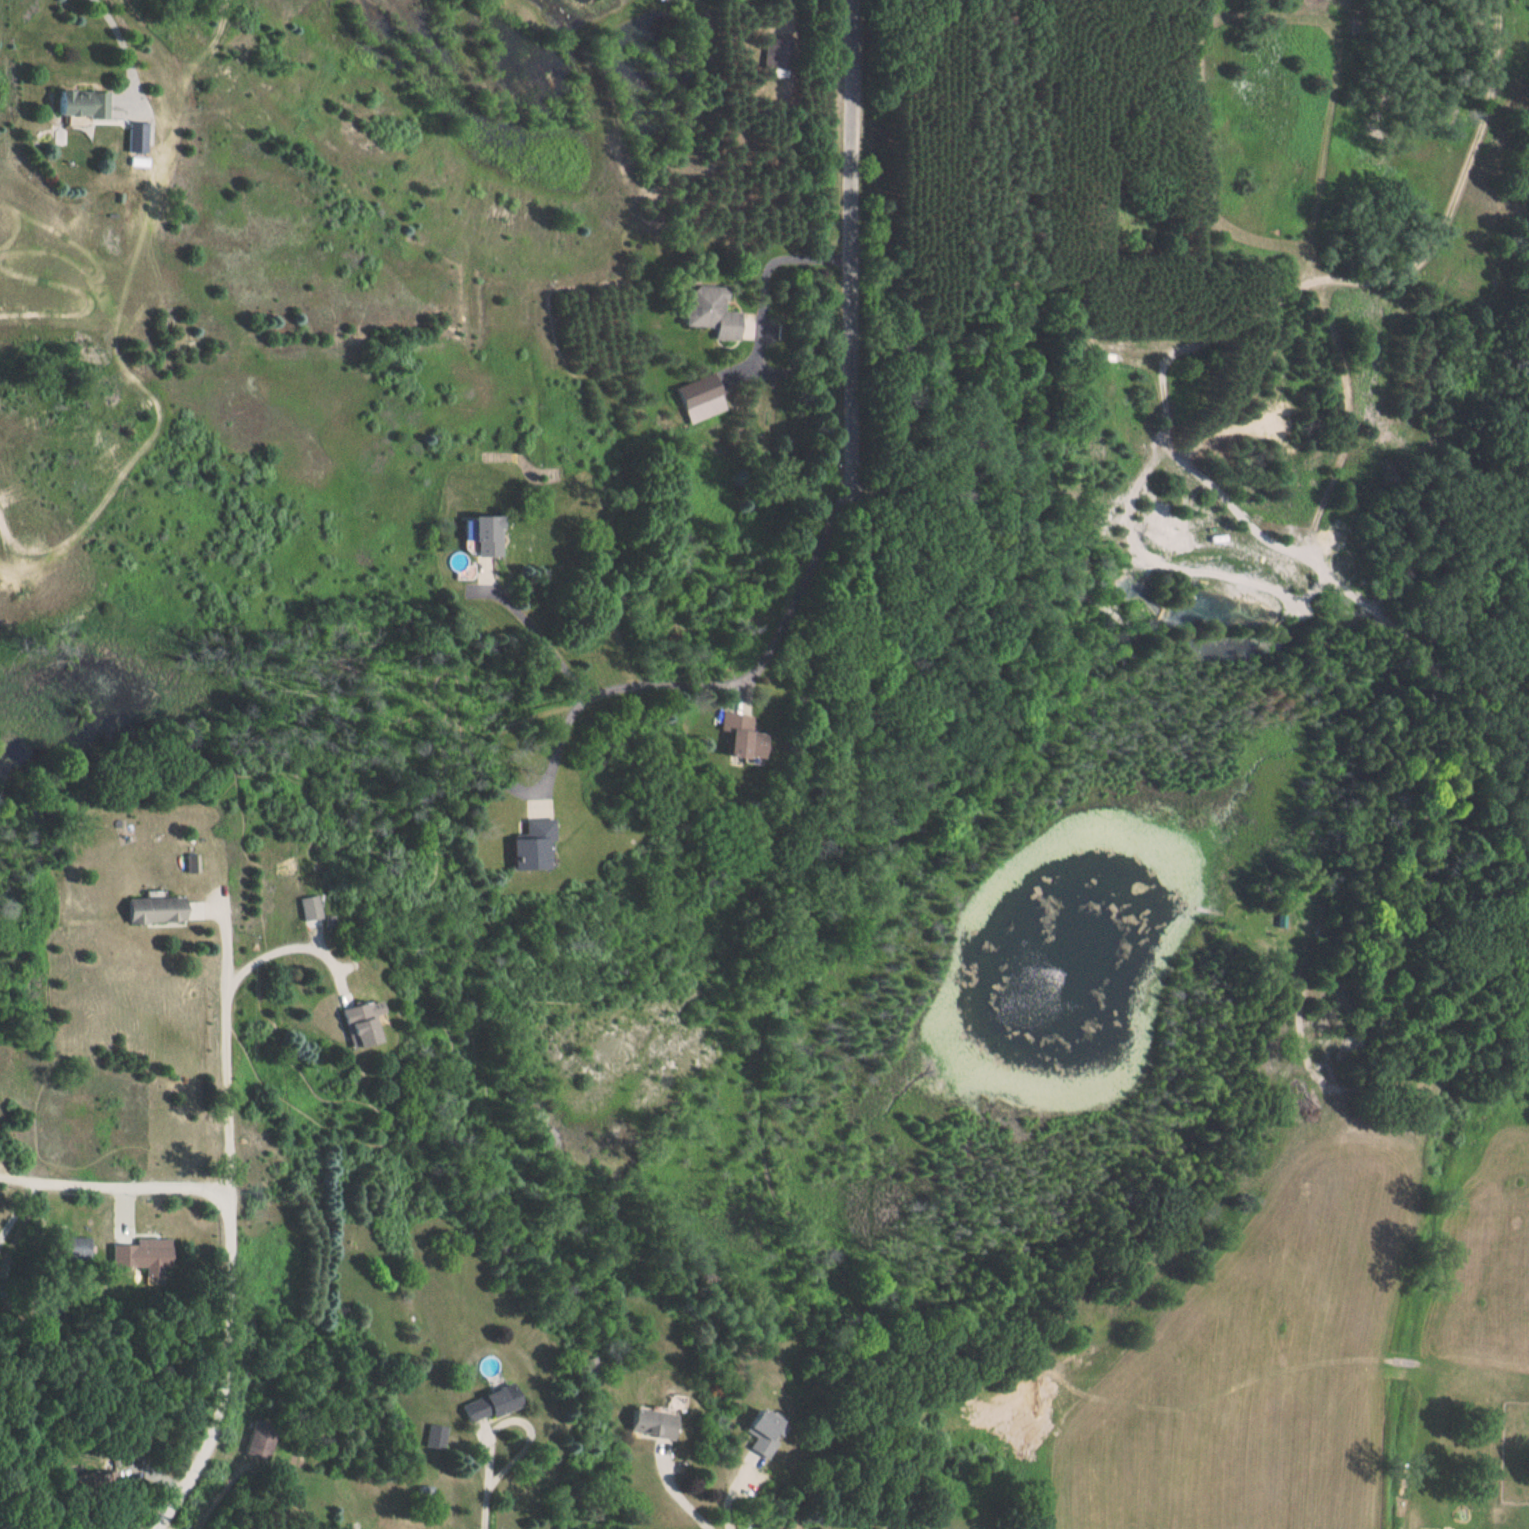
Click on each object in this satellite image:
road: (122, 41)
building: (771, 56)
building: (75, 103)
building: (134, 137)
building: (705, 311)
road: (764, 318)
building: (694, 398)
building: (478, 534)
road: (852, 556)
road: (540, 634)
road: (714, 686)
building: (726, 739)
building: (523, 845)
building: (189, 863)
building: (309, 907)
building: (147, 910)
road: (286, 947)
building: (352, 1022)
road: (109, 1174)
road: (220, 1238)
building: (62, 1248)
building: (140, 1256)
building: (586, 1368)
building: (481, 1405)
building: (641, 1425)
building: (751, 1433)
building: (430, 1438)
building: (249, 1440)
road: (488, 1473)
building: (87, 1483)
road: (728, 1484)
road: (674, 1489)

